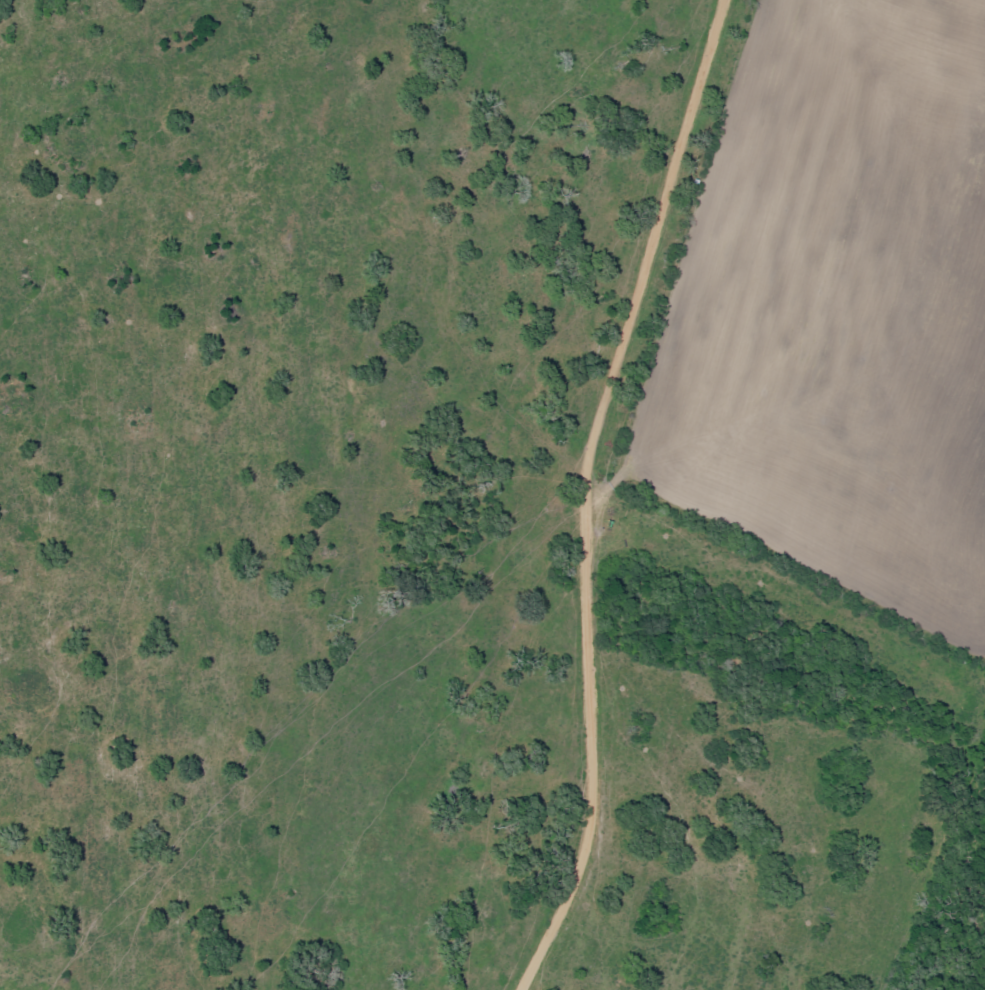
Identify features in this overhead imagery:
road: (583, 492)

